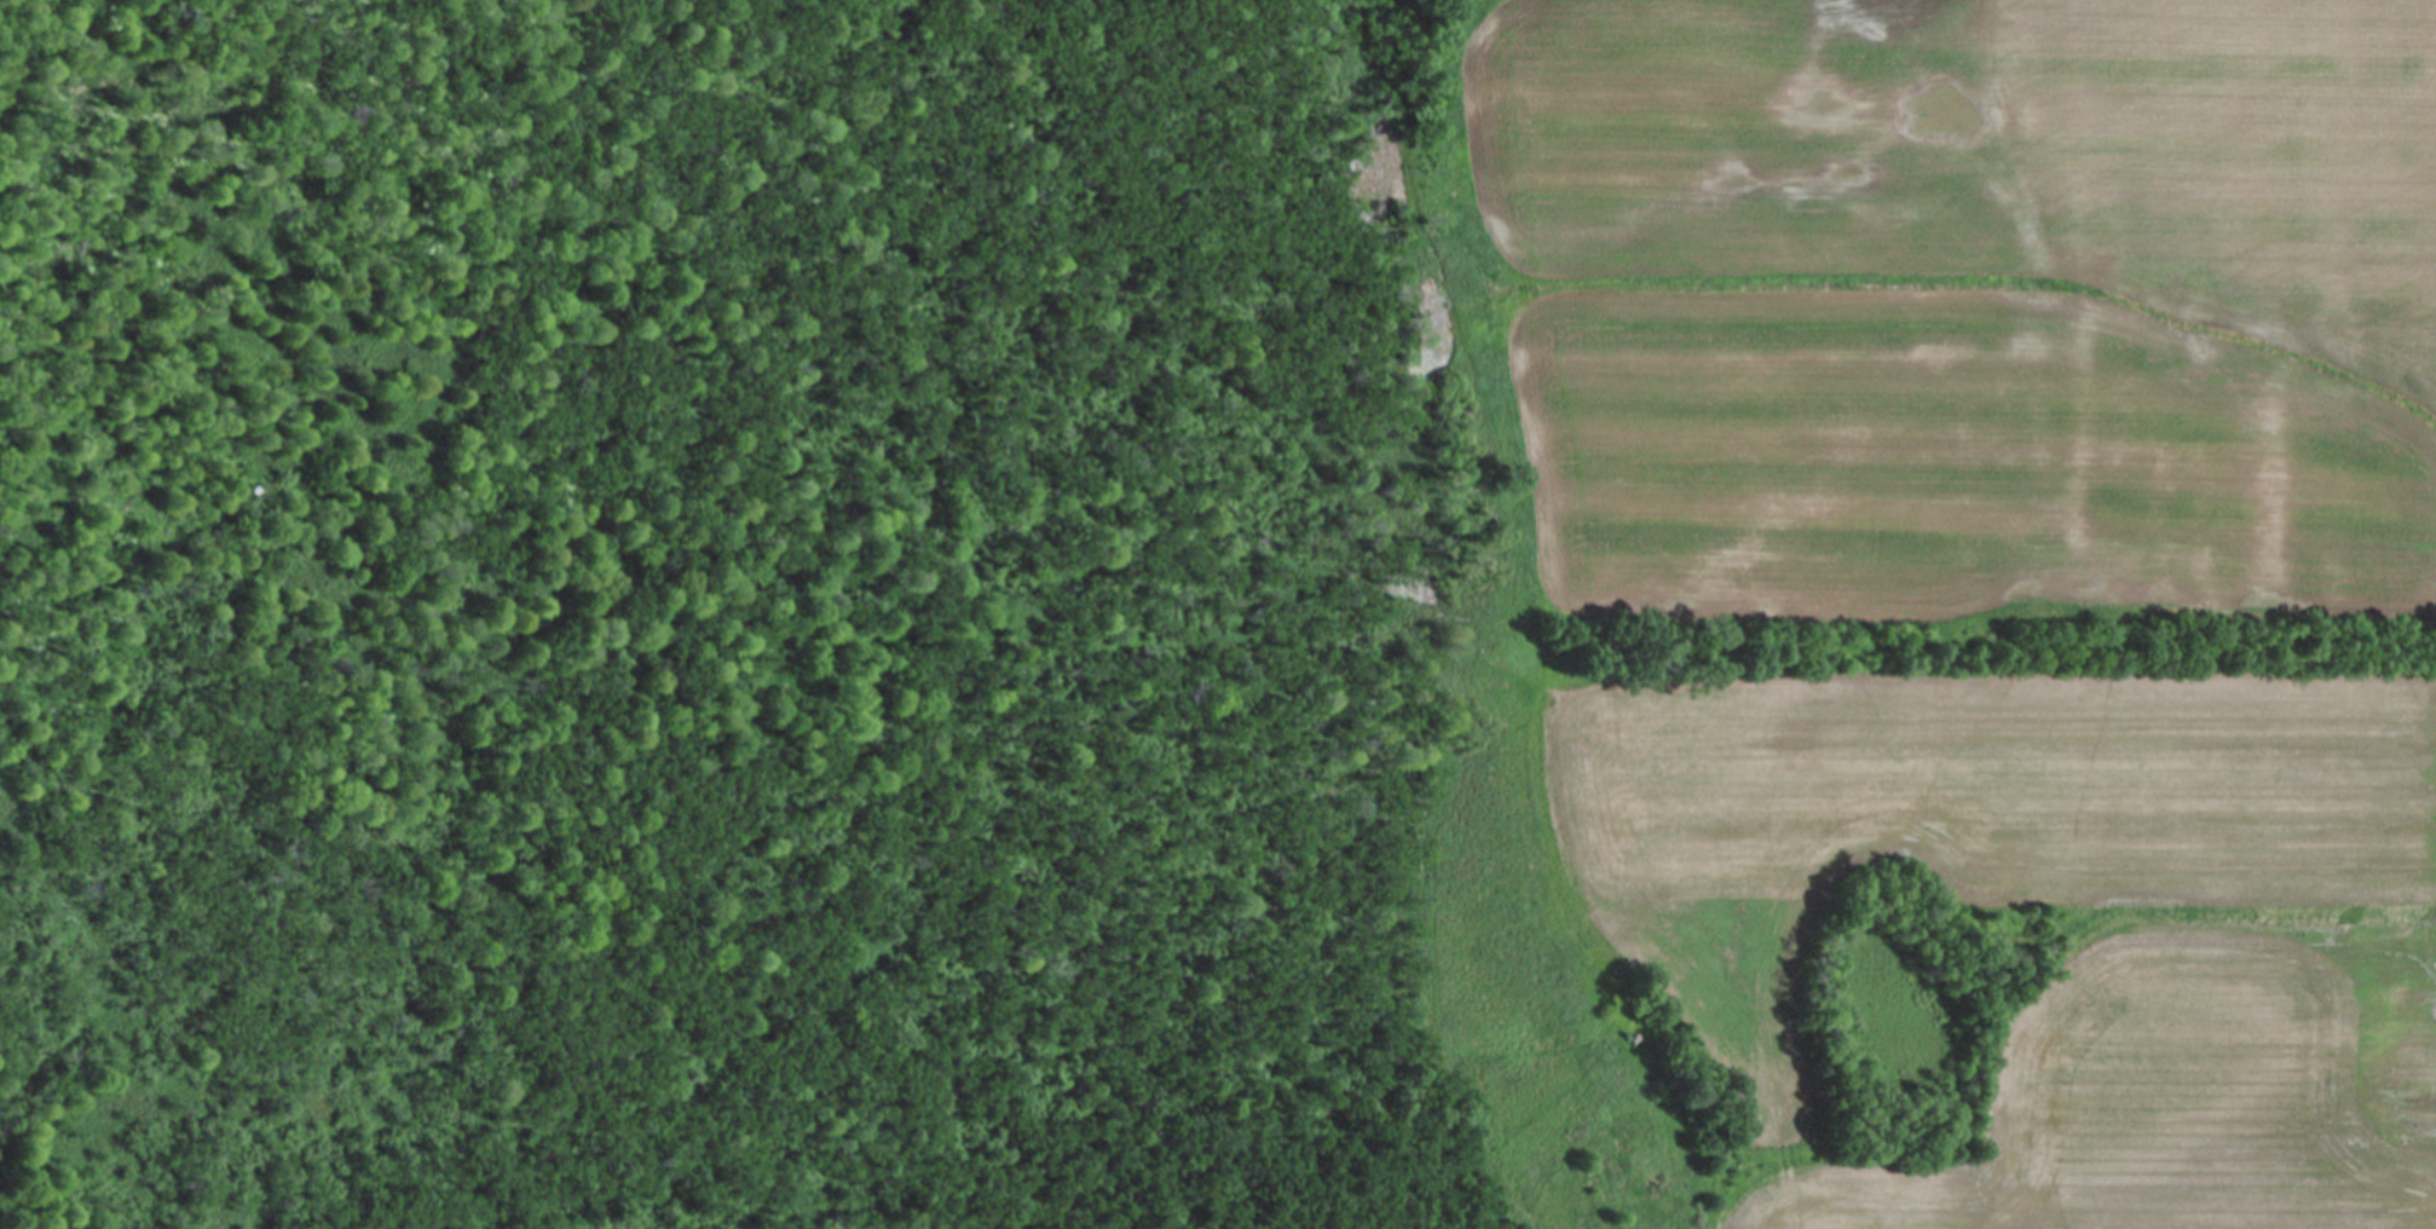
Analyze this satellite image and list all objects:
road: (2009, 647)

